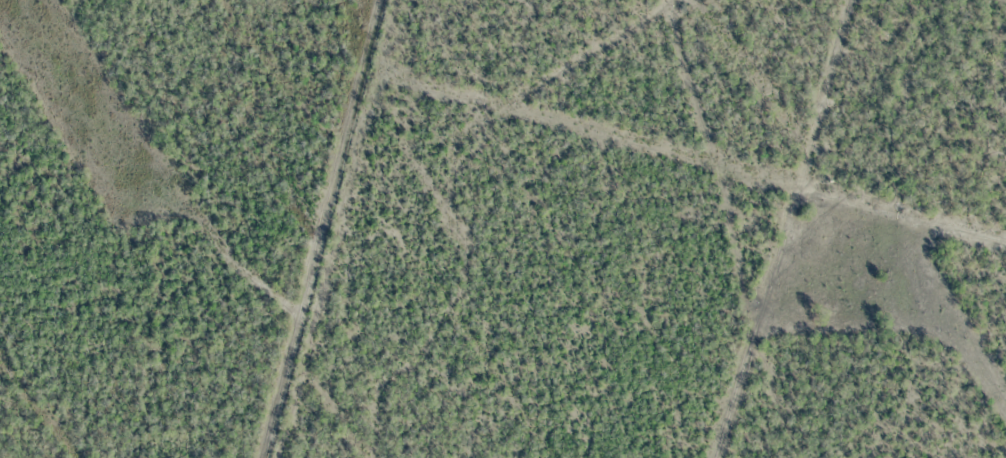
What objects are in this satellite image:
road: (793, 228)

